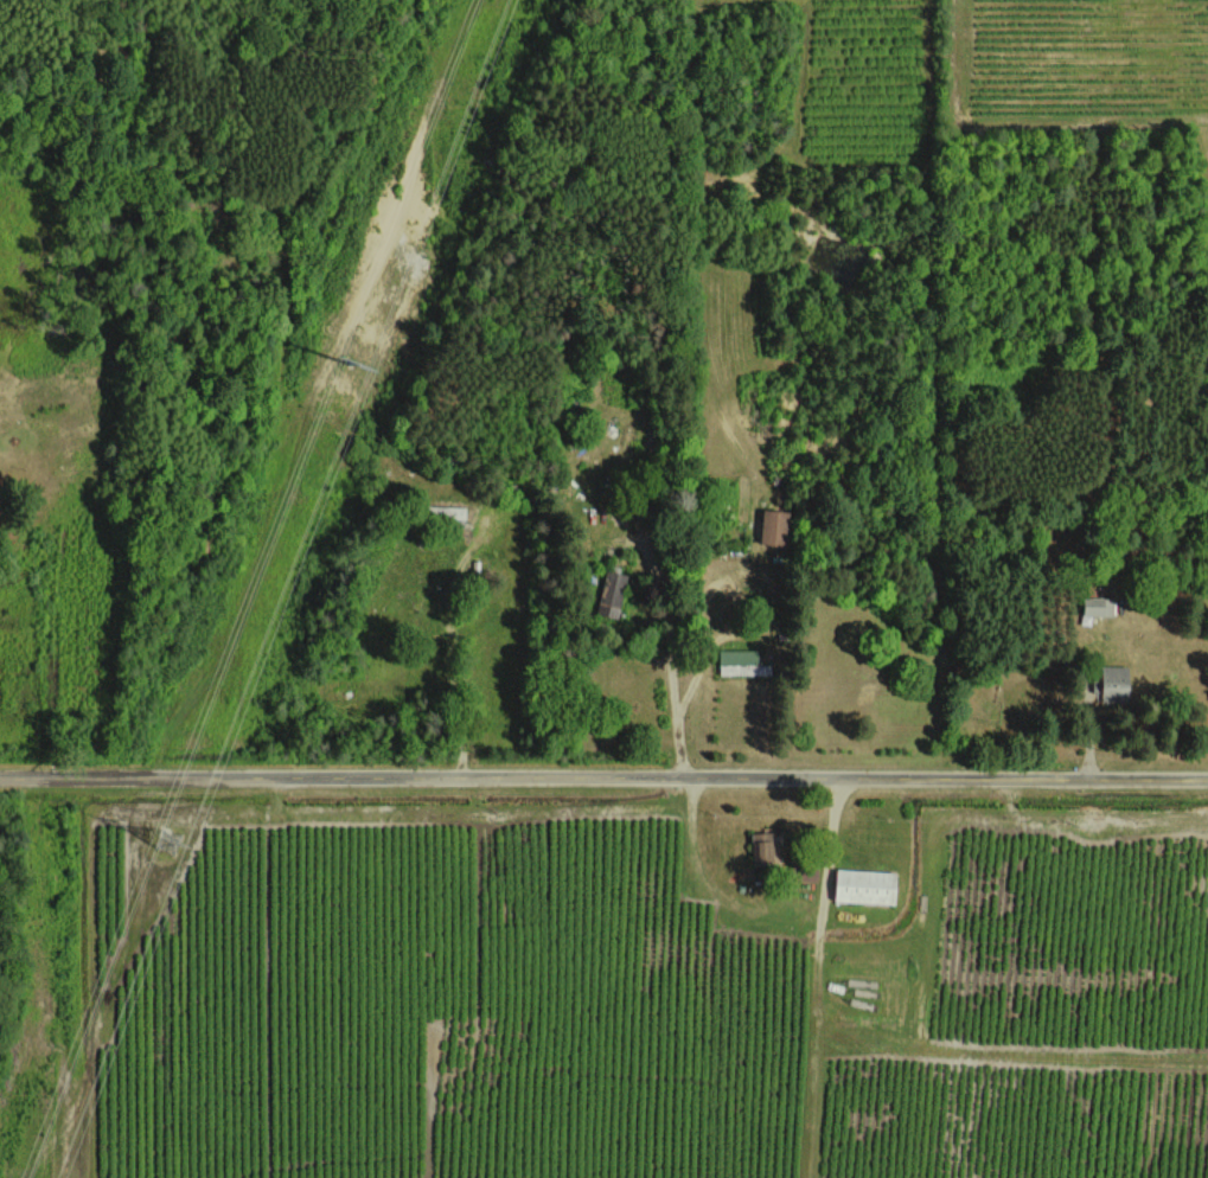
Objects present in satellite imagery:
power tower: (345, 377)
building: (773, 527)
building: (611, 593)
building: (1097, 604)
road: (452, 645)
road: (704, 657)
building: (741, 661)
road: (669, 668)
building: (1113, 681)
road: (603, 777)
power tower: (170, 838)
building: (761, 847)
building: (864, 885)

